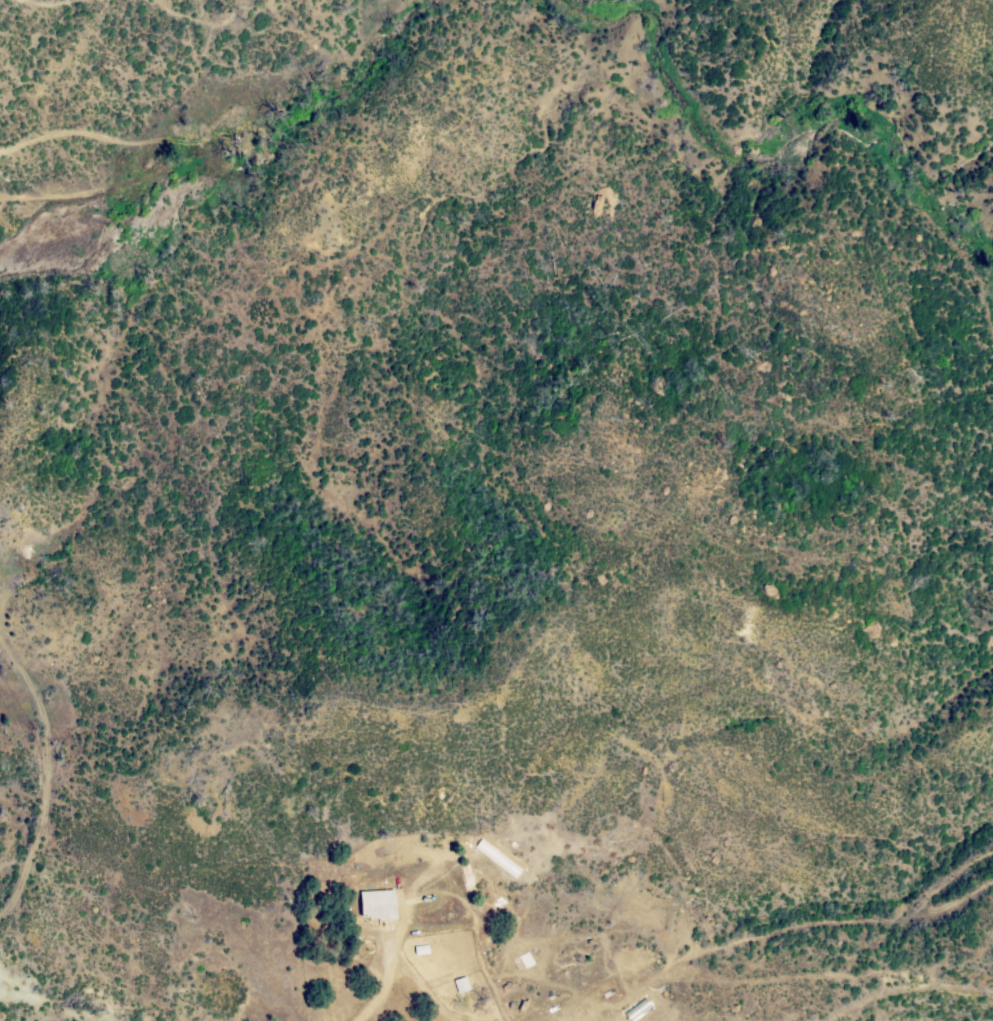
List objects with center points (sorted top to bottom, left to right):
road: (213, 143)
road: (44, 779)
building: (515, 819)
storage tank: (431, 896)
storage tank: (425, 899)
road: (928, 899)
building: (380, 904)
building: (471, 927)
building: (423, 950)
building: (523, 963)
building: (567, 963)
road: (384, 983)
building: (462, 984)
road: (907, 987)
building: (568, 1020)

